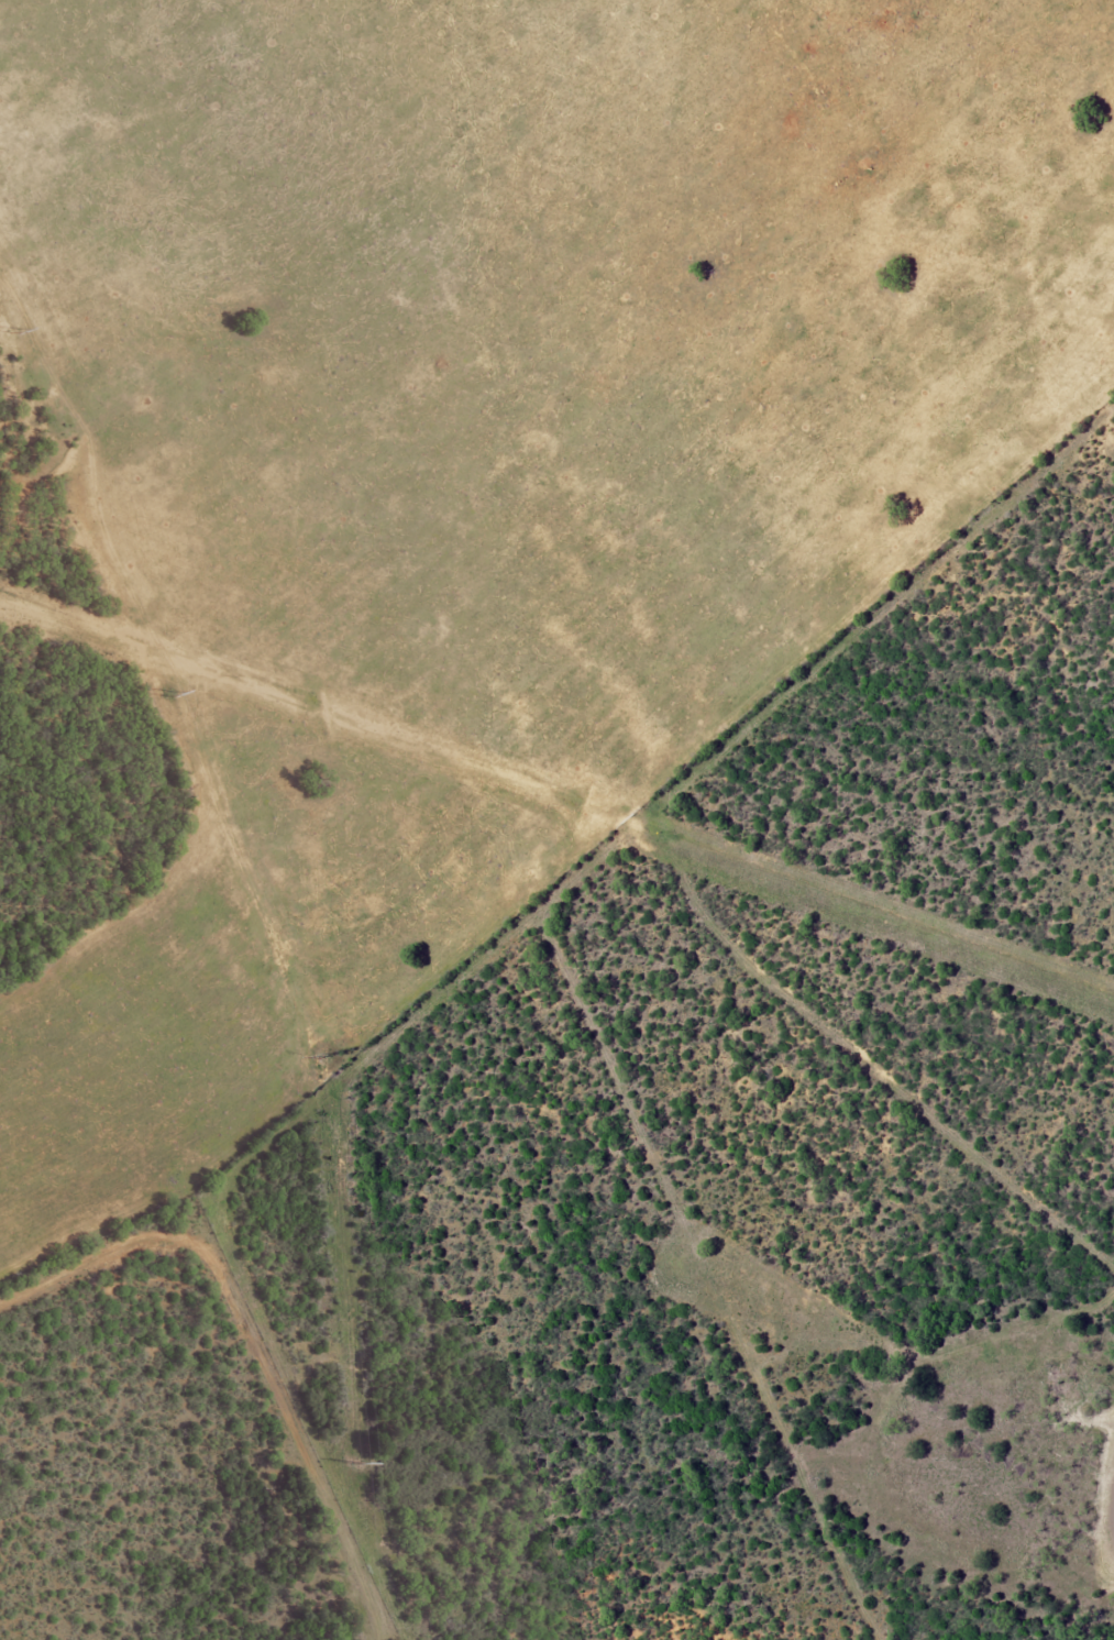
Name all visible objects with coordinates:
power tower: (13, 331)
power tower: (170, 695)
power tower: (329, 1056)
road: (302, 1461)
power tower: (357, 1465)

